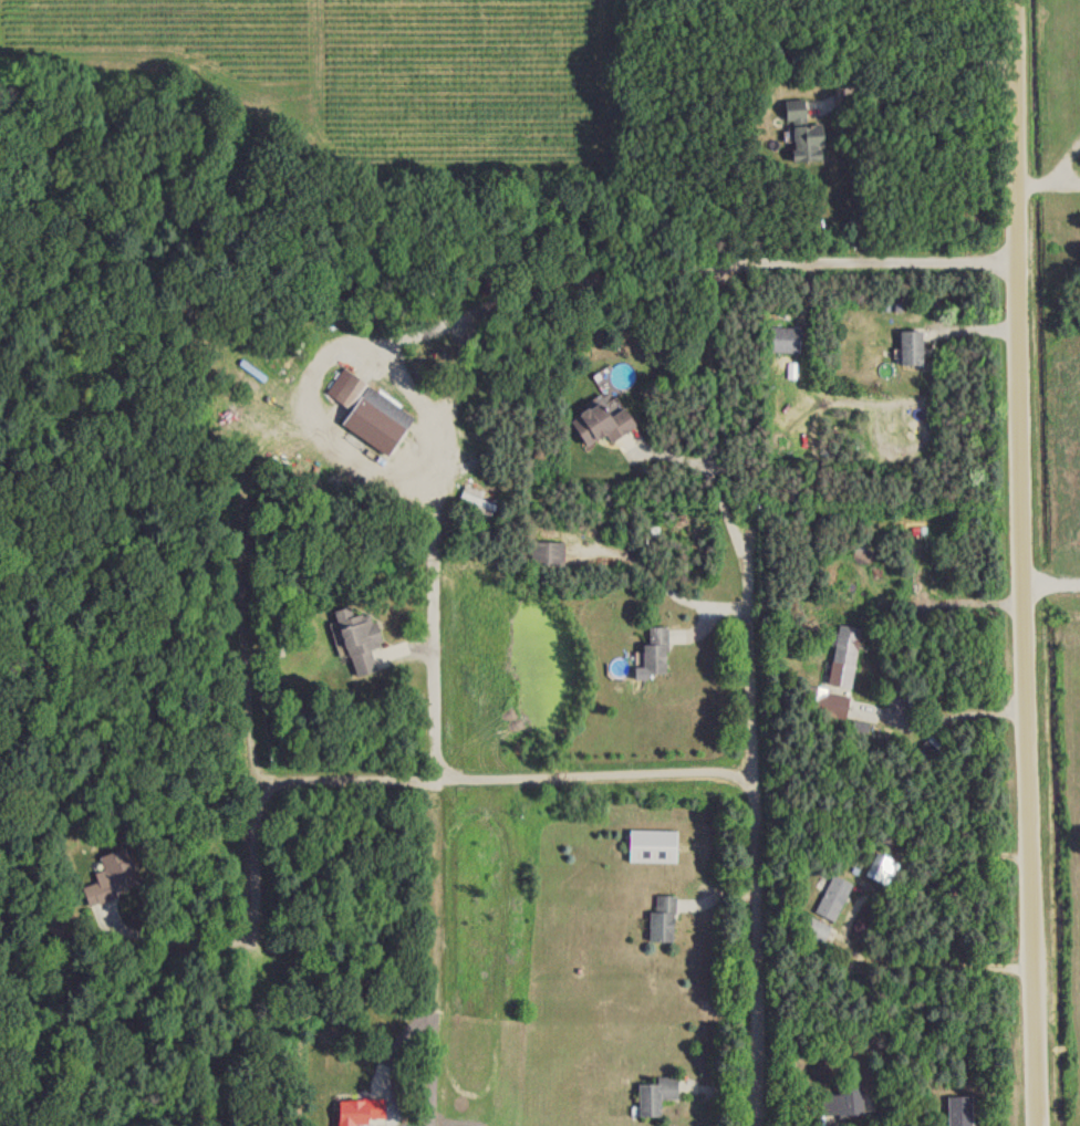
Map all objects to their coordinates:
crop: (371, 66)
road: (932, 86)
building: (801, 134)
road: (502, 295)
building: (783, 341)
building: (908, 350)
building: (367, 413)
building: (600, 421)
road: (728, 535)
building: (546, 553)
road: (1028, 563)
road: (1055, 592)
building: (359, 640)
building: (652, 654)
building: (842, 656)
building: (825, 702)
road: (945, 720)
road: (440, 772)
road: (605, 780)
road: (243, 844)
building: (652, 846)
building: (883, 870)
building: (112, 879)
building: (833, 898)
building: (661, 920)
building: (816, 929)
road: (941, 966)
building: (654, 1096)
building: (842, 1103)
building: (958, 1111)
building: (357, 1112)

